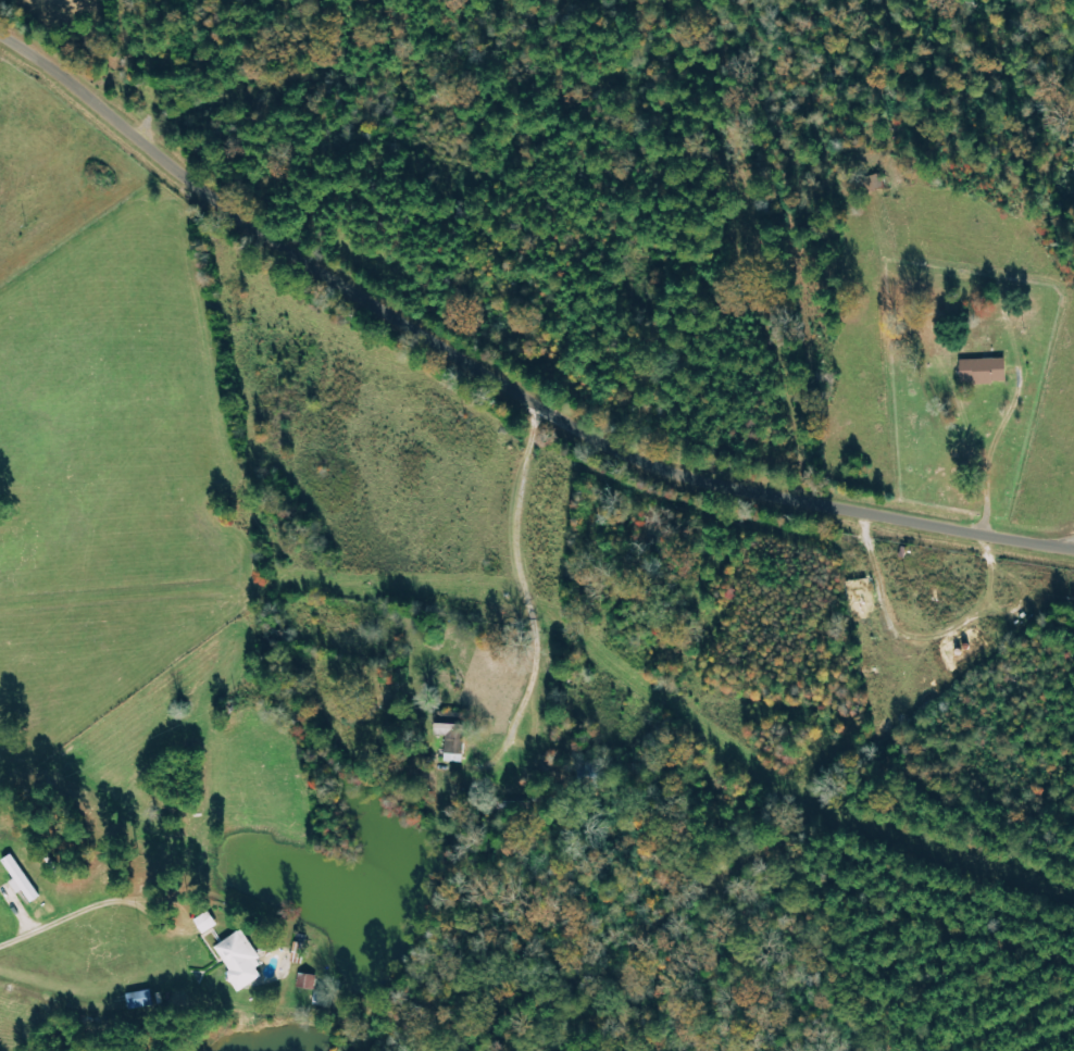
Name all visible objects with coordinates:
building: (985, 371)
road: (495, 383)
road: (1050, 508)
road: (528, 597)
building: (454, 738)
road: (65, 915)
building: (241, 961)
building: (141, 1000)

